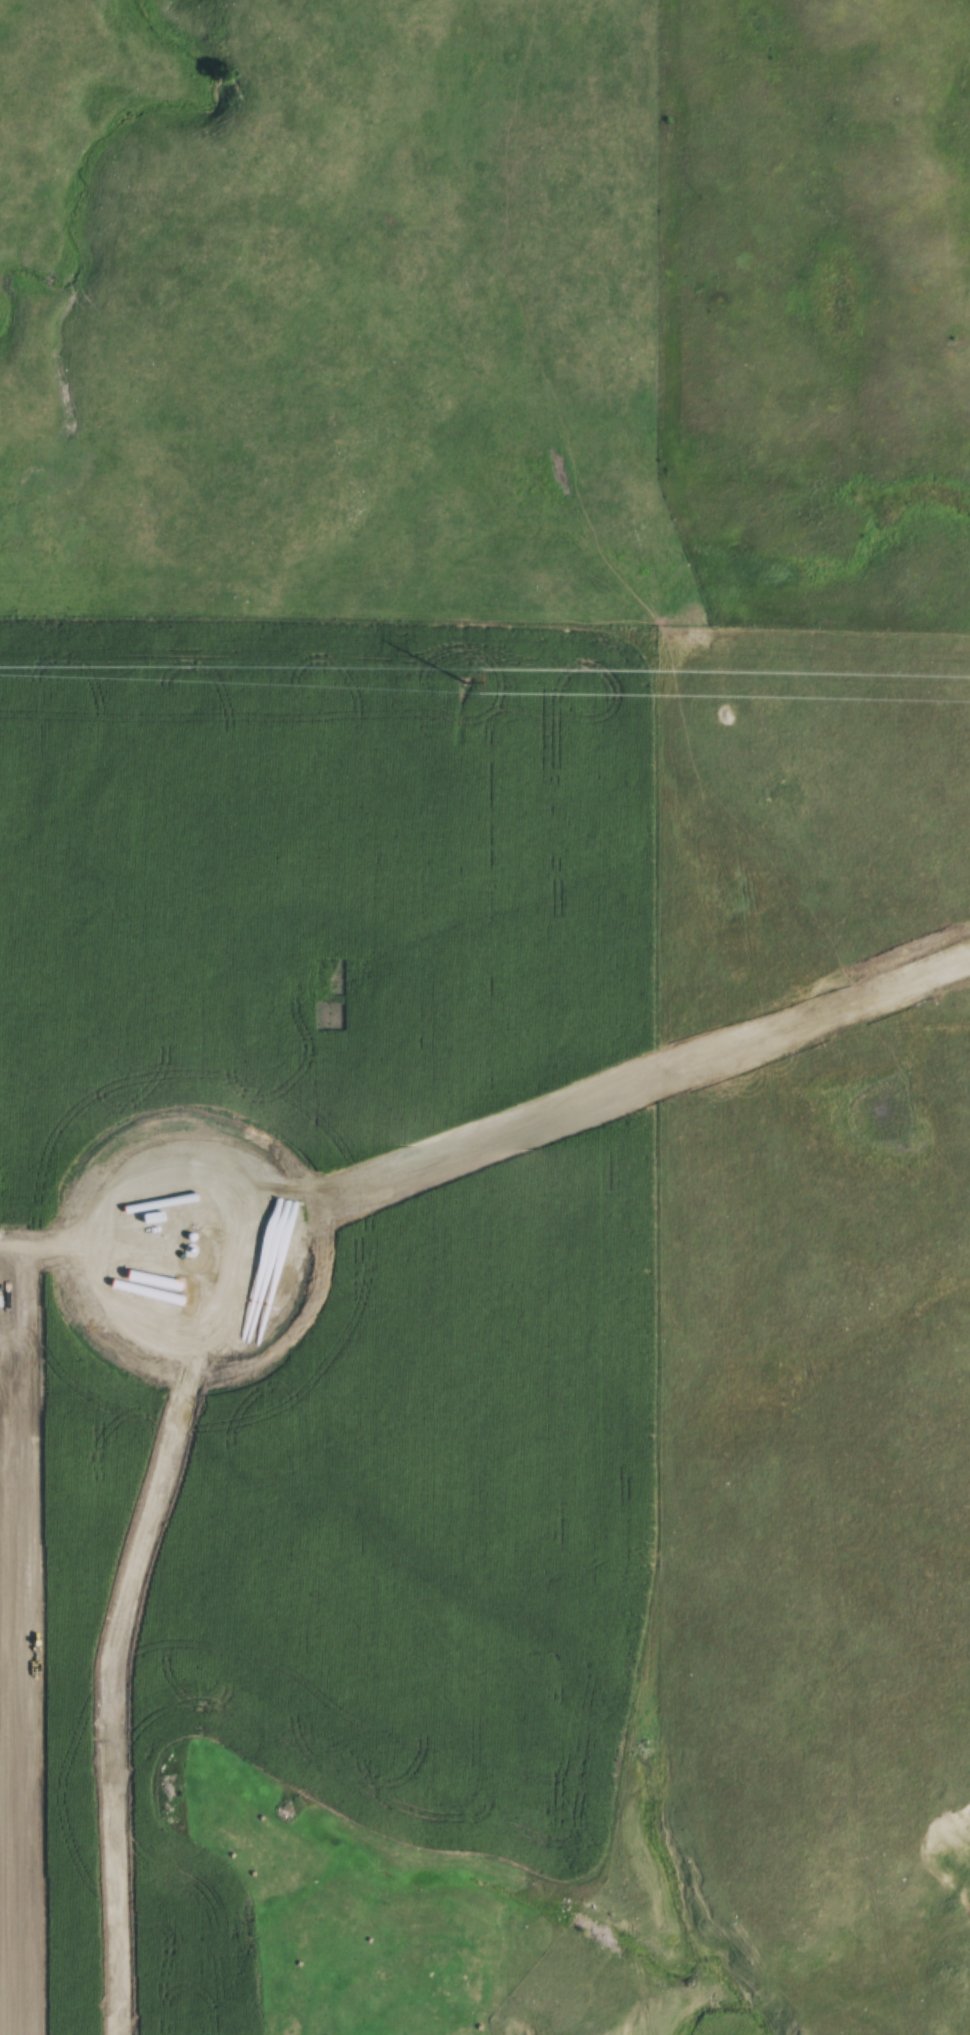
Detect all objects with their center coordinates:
power tower: (467, 687)
wind turbine: (192, 1227)

